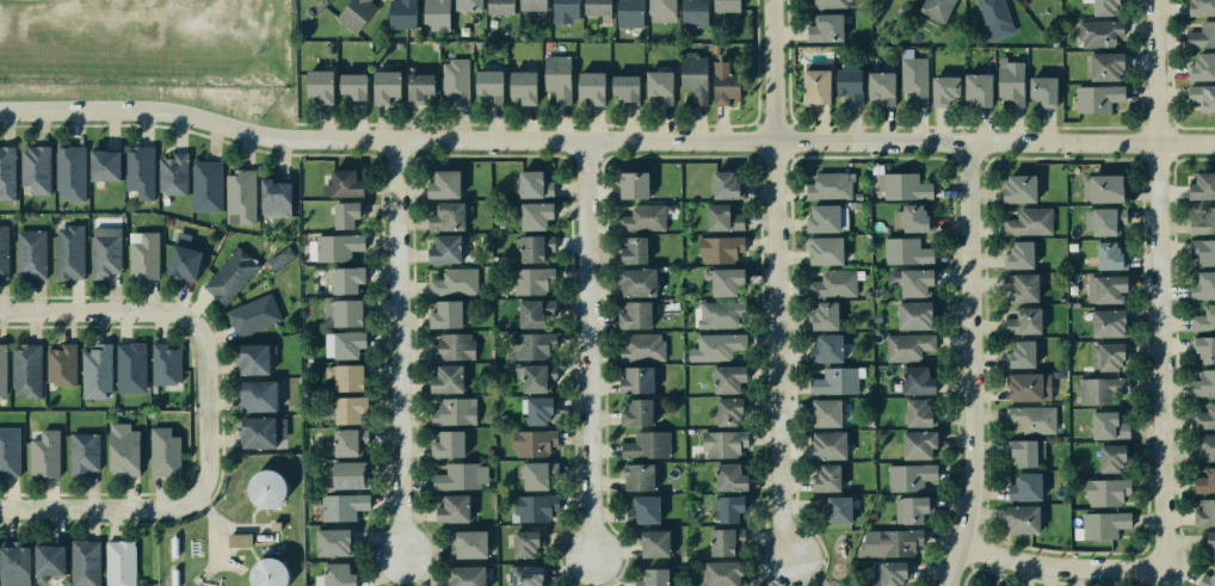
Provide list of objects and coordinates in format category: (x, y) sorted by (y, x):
building: (829, 4)
building: (656, 5)
building: (722, 5)
building: (464, 6)
building: (497, 6)
building: (529, 6)
building: (594, 7)
building: (932, 7)
building: (1102, 7)
building: (1198, 7)
building: (562, 10)
building: (353, 12)
building: (693, 13)
building: (399, 14)
building: (433, 14)
building: (629, 14)
building: (993, 14)
building: (824, 26)
building: (1096, 32)
building: (1201, 35)
building: (1103, 64)
building: (1198, 64)
building: (693, 79)
building: (1006, 79)
building: (557, 80)
building: (913, 80)
building: (454, 81)
building: (943, 82)
building: (655, 84)
building: (721, 84)
building: (315, 85)
building: (486, 85)
building: (845, 85)
building: (877, 85)
building: (382, 86)
building: (520, 86)
building: (621, 87)
building: (1038, 87)
building: (347, 88)
building: (417, 88)
building: (588, 88)
building: (809, 88)
building: (974, 88)
building: (1094, 98)
building: (1199, 98)
road: (116, 110)
road: (722, 147)
building: (101, 165)
building: (6, 169)
building: (33, 169)
building: (68, 172)
building: (138, 173)
building: (169, 173)
building: (340, 180)
building: (439, 183)
building: (528, 183)
building: (721, 183)
building: (1198, 184)
building: (631, 185)
building: (826, 185)
building: (205, 186)
building: (900, 186)
building: (1100, 186)
building: (1016, 189)
building: (240, 193)
building: (273, 193)
building: (345, 215)
building: (445, 215)
building: (531, 216)
building: (641, 216)
building: (718, 216)
building: (818, 216)
building: (906, 216)
building: (1028, 220)
building: (1103, 221)
building: (1202, 222)
building: (531, 247)
building: (718, 247)
building: (338, 248)
building: (440, 248)
building: (631, 248)
building: (821, 248)
building: (67, 251)
building: (2, 252)
building: (30, 252)
building: (903, 252)
building: (1199, 252)
building: (104, 253)
building: (1016, 253)
building: (1105, 253)
building: (142, 255)
building: (179, 259)
building: (229, 273)
building: (908, 279)
building: (346, 280)
building: (530, 280)
building: (634, 280)
building: (717, 280)
road: (776, 280)
building: (452, 282)
building: (828, 283)
road: (1158, 285)
building: (1201, 285)
building: (1019, 288)
building: (1105, 288)
road: (93, 309)
building: (252, 311)
building: (345, 311)
building: (534, 311)
building: (633, 313)
building: (908, 313)
building: (446, 314)
building: (819, 314)
building: (716, 315)
building: (1020, 320)
building: (1202, 320)
building: (1105, 322)
building: (343, 344)
building: (450, 345)
building: (530, 345)
building: (903, 345)
building: (642, 347)
building: (717, 347)
building: (824, 347)
building: (1202, 347)
road: (399, 350)
building: (1017, 353)
road: (585, 356)
building: (251, 358)
building: (1105, 358)
building: (166, 362)
building: (63, 364)
building: (131, 366)
road: (969, 368)
building: (4, 370)
building: (98, 370)
building: (26, 371)
building: (345, 377)
building: (442, 377)
building: (535, 377)
building: (724, 377)
building: (833, 378)
building: (912, 378)
building: (634, 380)
building: (1202, 383)
building: (1026, 385)
building: (1092, 390)
building: (257, 395)
road: (205, 406)
building: (347, 408)
building: (537, 409)
building: (726, 411)
building: (820, 411)
building: (913, 411)
building: (451, 412)
building: (634, 412)
building: (1203, 417)
building: (1029, 420)
building: (1097, 424)
building: (260, 431)
building: (347, 442)
building: (913, 443)
building: (445, 444)
building: (532, 444)
building: (644, 444)
building: (717, 444)
building: (821, 444)
building: (10, 449)
building: (119, 449)
building: (164, 449)
building: (1203, 449)
building: (42, 451)
building: (81, 451)
building: (1022, 451)
building: (1106, 457)
building: (345, 474)
building: (457, 475)
building: (532, 475)
building: (635, 476)
building: (907, 476)
building: (727, 477)
building: (822, 477)
building: (1203, 480)
building: (1022, 485)
building: (264, 491)
building: (1099, 492)
building: (343, 506)
building: (450, 507)
building: (532, 507)
building: (642, 507)
building: (835, 507)
road: (95, 508)
building: (728, 508)
building: (907, 508)
building: (1203, 511)
building: (1019, 518)
building: (1103, 523)
building: (236, 541)
building: (331, 541)
building: (717, 541)
building: (468, 543)
building: (522, 543)
building: (652, 543)
building: (892, 543)
building: (1207, 544)
building: (45, 557)
park: (832, 557)
building: (85, 561)
building: (118, 562)
building: (12, 563)
road: (1057, 567)
building: (716, 573)
building: (333, 574)
building: (522, 574)
building: (889, 574)
building: (267, 575)
building: (464, 576)
building: (653, 576)
building: (1205, 579)
park: (772, 585)

